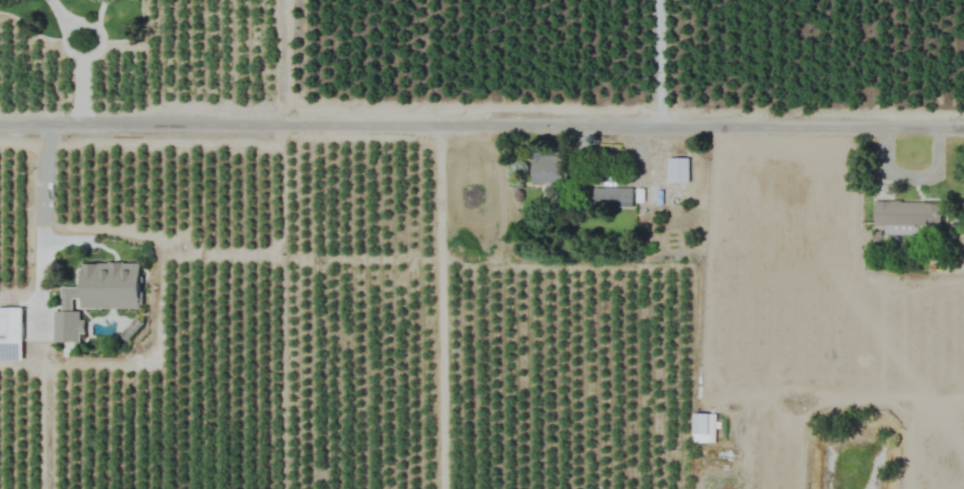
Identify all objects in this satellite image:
road: (67, 18)
road: (657, 62)
road: (81, 80)
road: (481, 124)
building: (548, 168)
building: (676, 169)
road: (45, 191)
building: (609, 196)
building: (908, 216)
building: (110, 285)
road: (439, 306)
building: (11, 323)
building: (66, 326)
building: (704, 427)

